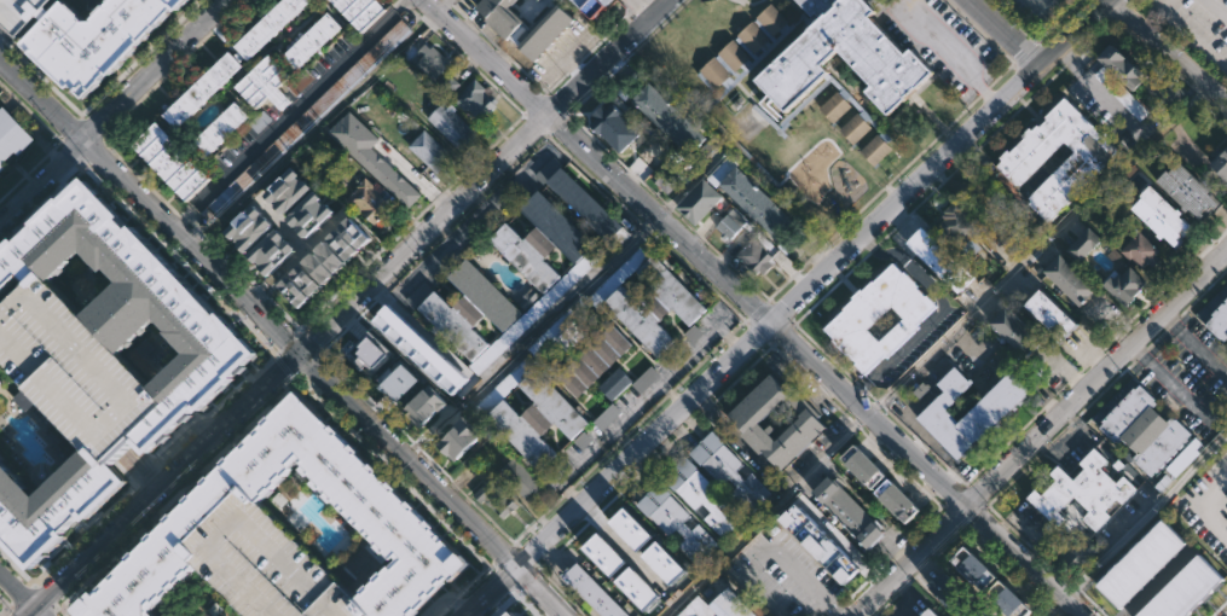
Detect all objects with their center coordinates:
building: (540, 0)
road: (447, 1)
road: (193, 4)
road: (407, 4)
road: (442, 5)
building: (591, 6)
road: (641, 7)
road: (633, 8)
road: (1117, 8)
building: (359, 11)
road: (457, 11)
parking lot: (1035, 11)
road: (416, 12)
building: (21, 13)
parking garage: (21, 13)
road: (427, 23)
road: (471, 24)
building: (268, 25)
parking lot: (1196, 25)
building: (548, 29)
road: (1005, 30)
road: (1071, 30)
road: (979, 31)
road: (1090, 33)
building: (98, 39)
road: (488, 39)
road: (601, 39)
building: (311, 40)
road: (1035, 40)
road: (1179, 41)
road: (1171, 48)
building: (407, 51)
road: (1152, 52)
road: (504, 54)
road: (567, 54)
road: (1025, 54)
road: (627, 56)
road: (949, 56)
road: (486, 57)
road: (607, 58)
road: (1069, 59)
road: (134, 62)
building: (432, 62)
road: (572, 65)
building: (1125, 66)
road: (574, 69)
road: (39, 76)
building: (789, 82)
building: (265, 83)
road: (538, 86)
building: (199, 91)
road: (1099, 91)
building: (1161, 91)
road: (543, 93)
road: (1200, 93)
building: (1122, 94)
parking lot: (1122, 94)
building: (475, 100)
road: (534, 104)
road: (551, 104)
road: (131, 105)
road: (1215, 105)
road: (516, 106)
road: (111, 109)
road: (525, 112)
road: (288, 114)
road: (566, 114)
road: (79, 118)
building: (305, 120)
parking lot: (305, 120)
road: (537, 120)
road: (554, 121)
road: (948, 123)
building: (673, 124)
building: (452, 126)
building: (614, 127)
road: (312, 129)
road: (70, 130)
road: (88, 130)
building: (219, 130)
road: (545, 133)
building: (11, 136)
road: (58, 140)
road: (59, 140)
road: (99, 140)
road: (70, 149)
road: (89, 149)
building: (429, 152)
building: (656, 155)
road: (970, 155)
building: (372, 157)
road: (1198, 161)
building: (169, 162)
building: (1084, 163)
road: (81, 164)
building: (1220, 164)
building: (666, 176)
road: (413, 178)
building: (287, 191)
road: (904, 192)
building: (1190, 192)
road: (439, 194)
building: (751, 198)
building: (371, 201)
building: (700, 202)
building: (584, 203)
building: (986, 204)
road: (667, 207)
building: (309, 214)
road: (181, 217)
building: (1162, 217)
road: (658, 219)
road: (278, 222)
building: (730, 226)
road: (193, 227)
building: (248, 228)
building: (960, 229)
road: (323, 232)
building: (354, 232)
road: (203, 237)
building: (794, 239)
building: (540, 240)
road: (826, 242)
road: (433, 243)
building: (1083, 244)
building: (342, 245)
road: (873, 246)
building: (1141, 250)
building: (271, 251)
building: (330, 256)
building: (754, 256)
building: (937, 261)
road: (228, 262)
road: (284, 268)
building: (318, 268)
building: (619, 274)
parking lot: (619, 274)
road: (1177, 274)
road: (196, 275)
road: (351, 278)
building: (305, 279)
building: (1070, 279)
building: (1123, 284)
building: (293, 291)
road: (1202, 291)
road: (260, 292)
building: (1226, 295)
road: (256, 296)
building: (653, 303)
building: (538, 308)
parking lot: (538, 308)
road: (560, 309)
road: (757, 309)
building: (468, 310)
road: (780, 310)
road: (939, 312)
building: (1052, 314)
road: (801, 315)
building: (879, 316)
building: (1216, 320)
road: (794, 321)
road: (1112, 321)
road: (1173, 321)
building: (558, 327)
parking lot: (558, 327)
road: (297, 329)
road: (1121, 329)
building: (1017, 331)
road: (781, 332)
road: (757, 333)
road: (1157, 337)
building: (404, 338)
road: (280, 339)
road: (288, 342)
road: (307, 342)
road: (1107, 342)
road: (1194, 344)
road: (274, 353)
road: (319, 353)
road: (930, 353)
road: (1140, 354)
road: (1093, 355)
road: (1094, 355)
building: (367, 360)
road: (307, 361)
building: (592, 361)
building: (1, 362)
road: (288, 362)
building: (210, 366)
road: (285, 366)
road: (1083, 367)
building: (76, 370)
parking garage: (76, 370)
road: (1064, 371)
road: (297, 372)
road: (741, 373)
road: (1071, 377)
road: (1098, 377)
building: (398, 380)
road: (810, 382)
road: (862, 387)
building: (502, 388)
parking lot: (502, 388)
road: (1104, 388)
road: (1059, 389)
road: (1179, 390)
road: (872, 396)
road: (279, 399)
road: (1047, 402)
road: (879, 403)
road: (708, 405)
building: (426, 406)
building: (970, 412)
road: (869, 413)
building: (538, 419)
building: (608, 419)
road: (1072, 420)
road: (898, 422)
building: (808, 424)
road: (856, 424)
road: (630, 431)
road: (731, 431)
road: (1058, 434)
building: (1151, 435)
road: (181, 437)
building: (459, 440)
road: (921, 443)
road: (126, 447)
road: (1044, 447)
road: (662, 449)
road: (985, 463)
road: (141, 466)
road: (145, 466)
building: (864, 466)
road: (618, 469)
building: (728, 469)
building: (519, 476)
road: (1012, 478)
road: (915, 482)
road: (966, 484)
building: (1087, 490)
building: (497, 495)
building: (701, 495)
road: (974, 495)
road: (957, 496)
road: (609, 500)
building: (898, 500)
road: (943, 505)
building: (850, 512)
road: (994, 512)
road: (956, 513)
road: (974, 513)
road: (1145, 513)
road: (594, 515)
building: (676, 521)
road: (1005, 523)
building: (395, 528)
building: (633, 530)
road: (574, 534)
building: (1170, 536)
road: (80, 539)
building: (830, 546)
building: (1161, 546)
road: (988, 547)
road: (626, 548)
road: (897, 550)
road: (505, 554)
road: (1036, 554)
road: (552, 556)
building: (607, 556)
building: (1150, 557)
road: (913, 560)
road: (1025, 560)
building: (1071, 560)
building: (665, 563)
building: (267, 565)
parking garage: (267, 565)
road: (543, 565)
road: (925, 565)
road: (537, 566)
road: (879, 568)
building: (1139, 568)
building: (974, 570)
building: (1208, 573)
road: (525, 574)
parking lot: (785, 575)
road: (913, 576)
road: (476, 579)
building: (1127, 579)
road: (1159, 582)
building: (1197, 583)
road: (863, 585)
road: (515, 586)
road: (1071, 586)
road: (902, 587)
building: (639, 589)
building: (1115, 591)
road: (561, 592)
building: (594, 592)
building: (1186, 594)
road: (19, 597)
road: (44, 597)
building: (955, 597)
road: (446, 599)
road: (850, 599)
road: (455, 600)
road: (529, 602)
building: (1008, 602)
road: (7, 603)
road: (500, 603)
road: (885, 603)
road: (1090, 603)
building: (1173, 603)
road: (1053, 605)
building: (718, 606)
road: (1221, 606)
road: (840, 609)
building: (1157, 609)
road: (1052, 610)
road: (50, 611)
road: (444, 611)
building: (931, 612)
building: (515, 614)
building: (1145, 614)
road: (1212, 614)
road: (1058, 615)

